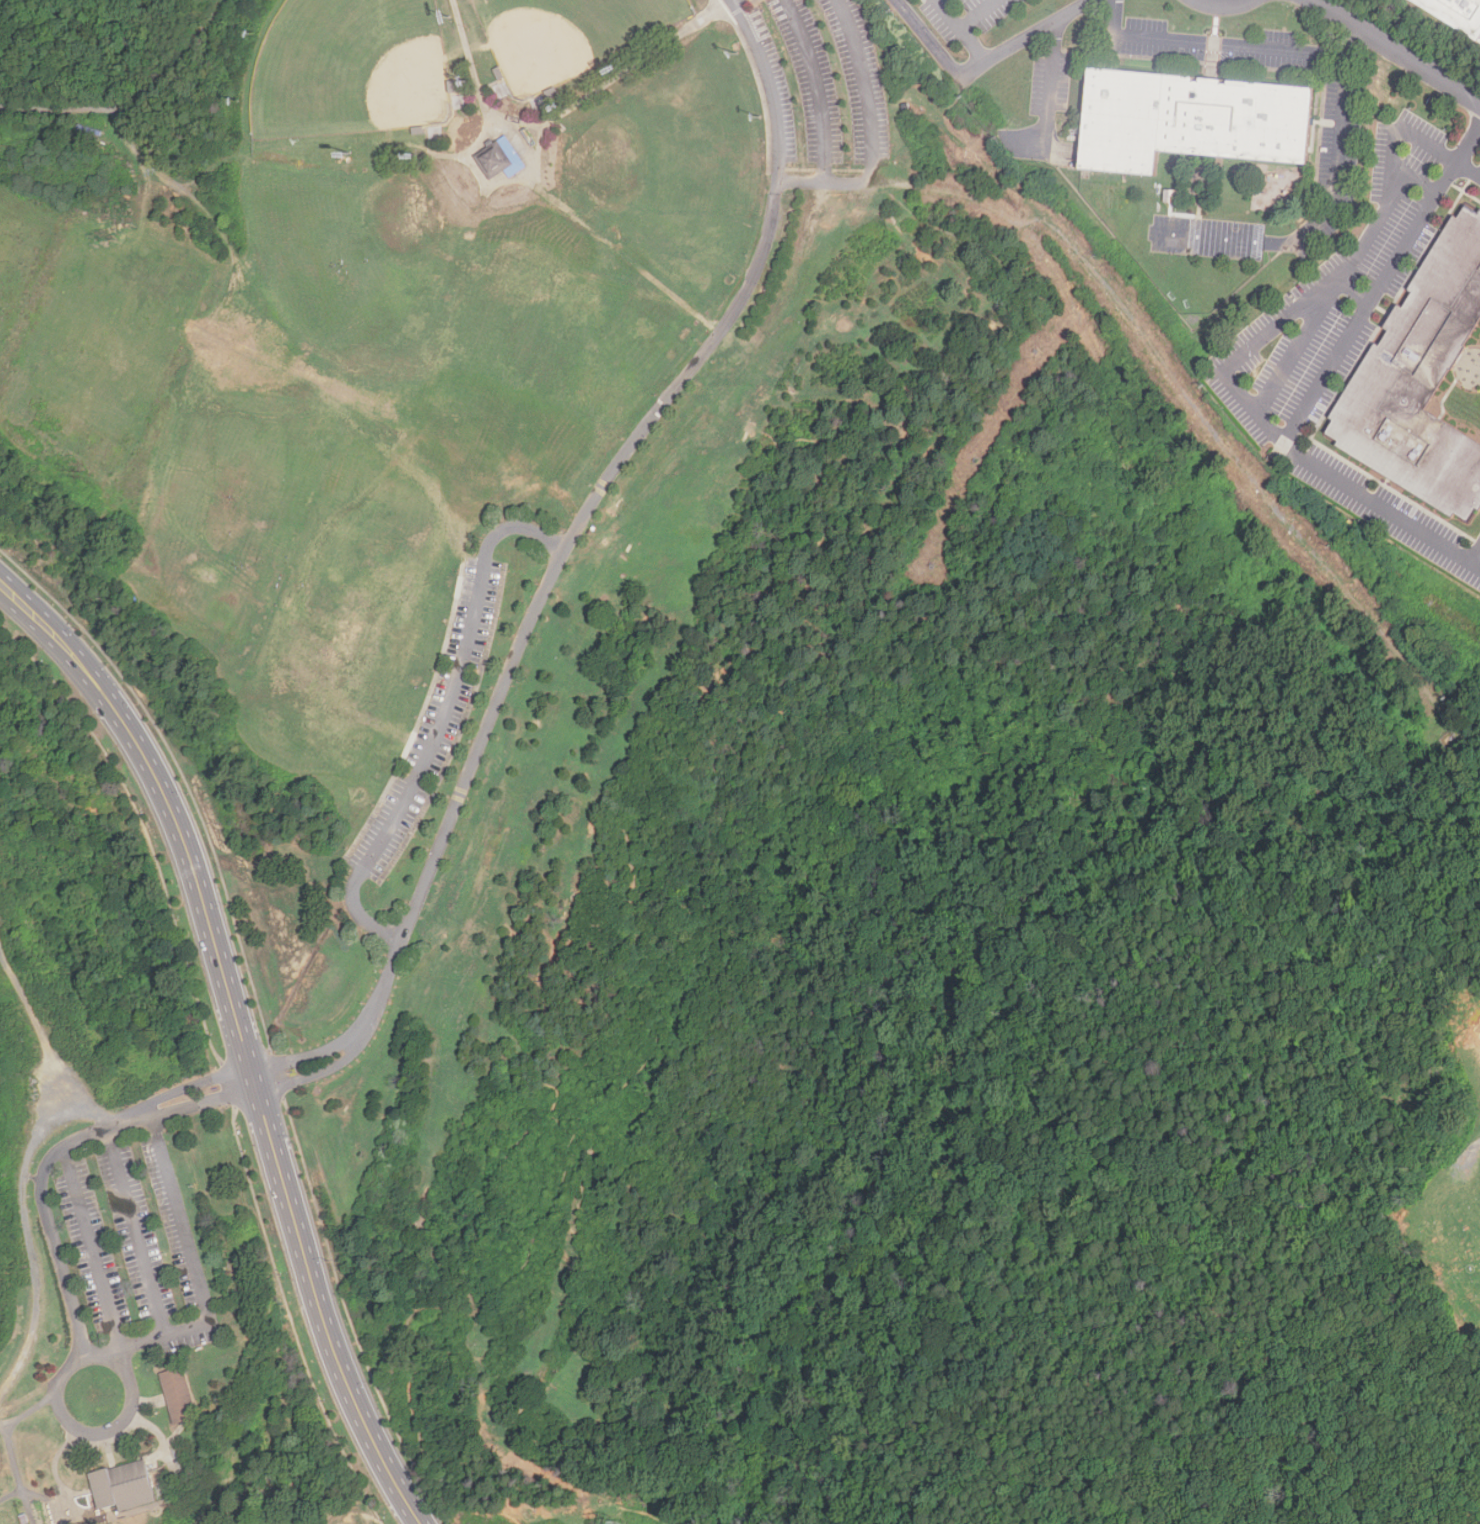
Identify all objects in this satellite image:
road: (120, 0)
road: (1224, 2)
building: (1461, 11)
road: (965, 26)
park: (569, 36)
road: (7, 37)
road: (972, 46)
road: (1230, 46)
road: (1395, 52)
road: (183, 63)
road: (980, 65)
park: (349, 68)
park: (811, 79)
road: (611, 82)
road: (773, 83)
road: (1048, 85)
parking lot: (823, 86)
road: (58, 108)
road: (866, 108)
road: (486, 114)
building: (1196, 118)
park: (643, 124)
building: (501, 158)
road: (1340, 158)
road: (804, 177)
park: (681, 180)
road: (178, 185)
road: (413, 185)
road: (521, 185)
road: (610, 191)
road: (568, 217)
road: (1381, 282)
road: (1354, 289)
road: (1039, 304)
road: (1252, 342)
road: (1297, 346)
building: (1420, 378)
road: (1179, 380)
road: (519, 526)
road: (1475, 553)
road: (53, 630)
road: (519, 643)
parking lot: (434, 721)
road: (439, 721)
road: (1455, 757)
park: (744, 764)
road: (1435, 826)
road: (362, 920)
road: (647, 922)
road: (1205, 964)
road: (34, 1043)
road: (262, 1104)
road: (60, 1151)
park: (140, 1165)
park: (1432, 1180)
road: (17, 1216)
road: (137, 1232)
parking lot: (130, 1238)
road: (99, 1245)
road: (189, 1266)
road: (943, 1304)
building: (177, 1395)
road: (31, 1411)
road: (79, 1426)
road: (19, 1472)
road: (1169, 1472)
building: (121, 1487)
road: (60, 1501)

